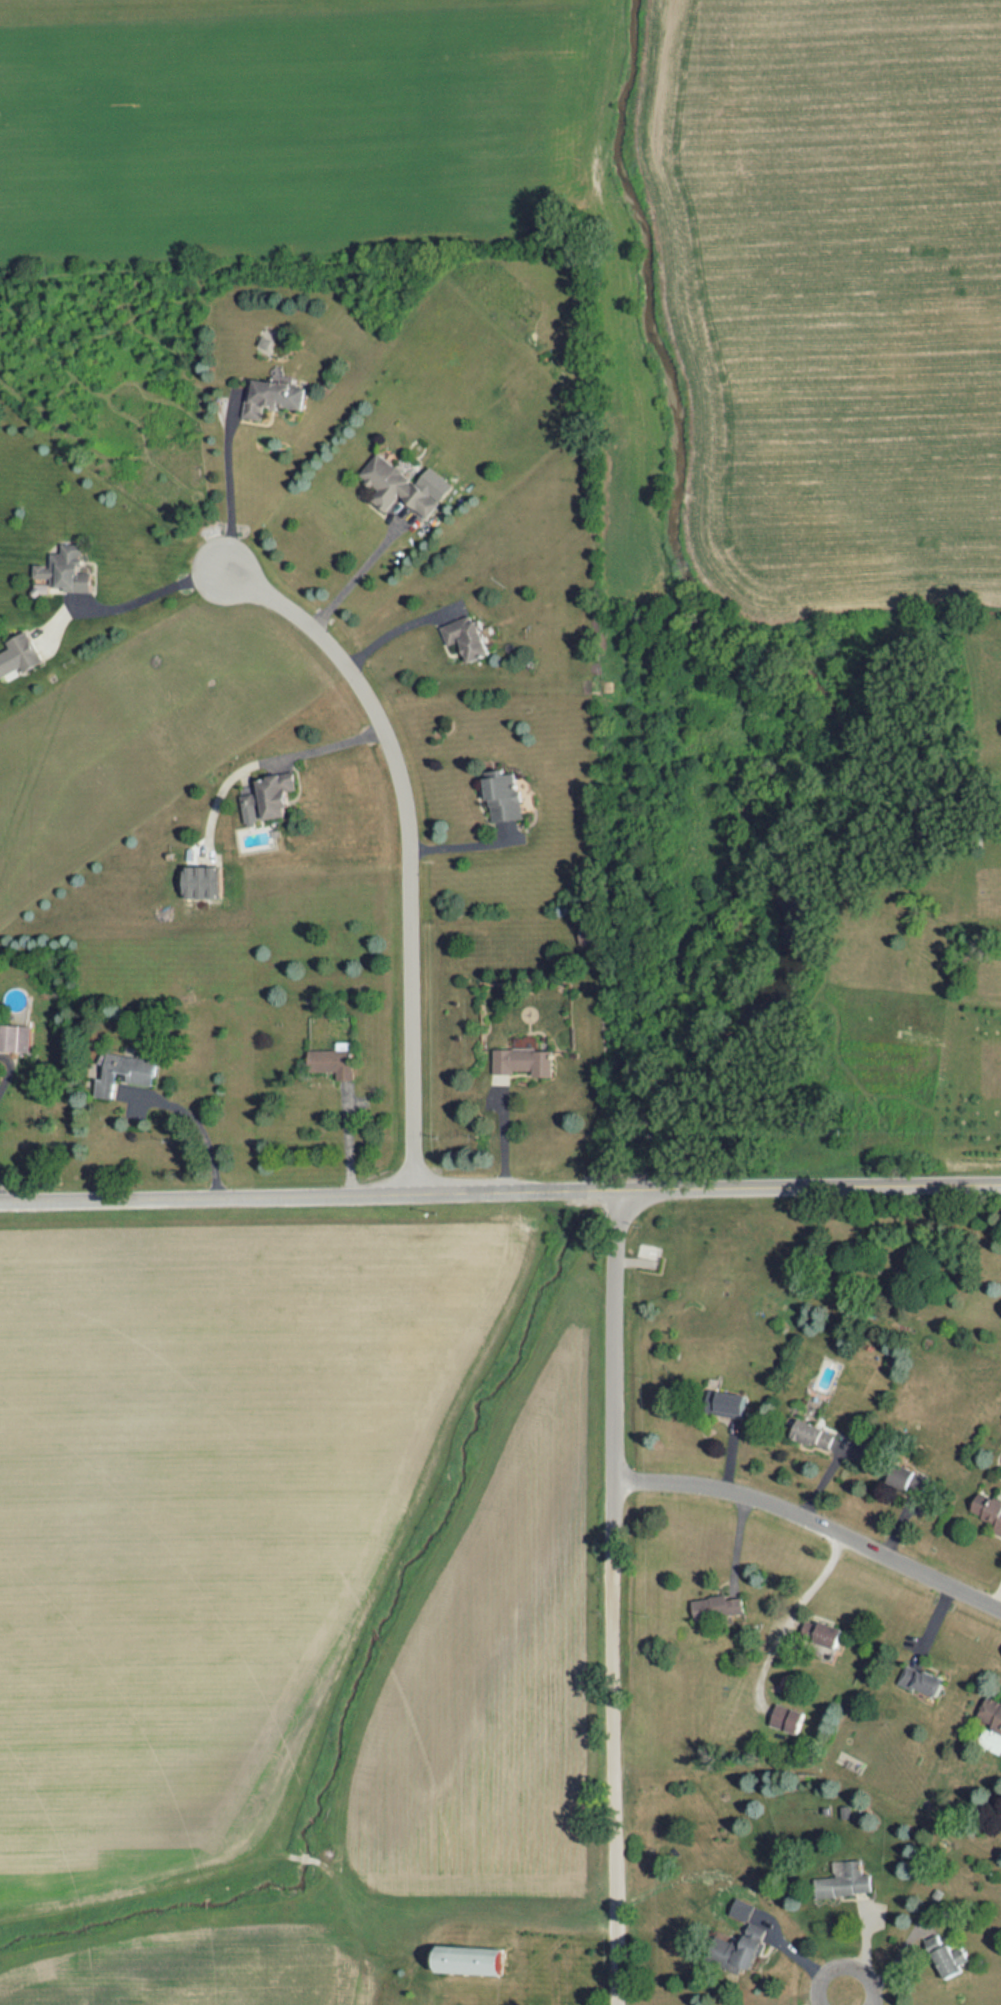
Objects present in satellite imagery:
building: (264, 342)
building: (273, 394)
road: (229, 485)
building: (404, 485)
building: (65, 569)
road: (362, 570)
road: (148, 599)
road: (392, 632)
building: (466, 637)
building: (18, 654)
road: (318, 748)
road: (242, 774)
building: (503, 796)
building: (267, 798)
road: (213, 799)
road: (506, 833)
road: (408, 843)
road: (464, 844)
building: (202, 881)
building: (15, 1038)
building: (524, 1061)
building: (332, 1062)
building: (122, 1071)
road: (189, 1128)
road: (505, 1134)
road: (349, 1138)
road: (809, 1187)
road: (308, 1192)
road: (612, 1373)
building: (730, 1404)
building: (814, 1434)
building: (908, 1479)
building: (988, 1510)
road: (813, 1518)
building: (718, 1607)
road: (792, 1612)
building: (821, 1633)
building: (920, 1680)
building: (991, 1715)
building: (787, 1718)
road: (614, 1781)
building: (845, 1880)
building: (742, 1909)
building: (749, 1922)
building: (740, 1949)
road: (796, 1956)
building: (946, 1957)
building: (469, 1959)
road: (848, 1997)

